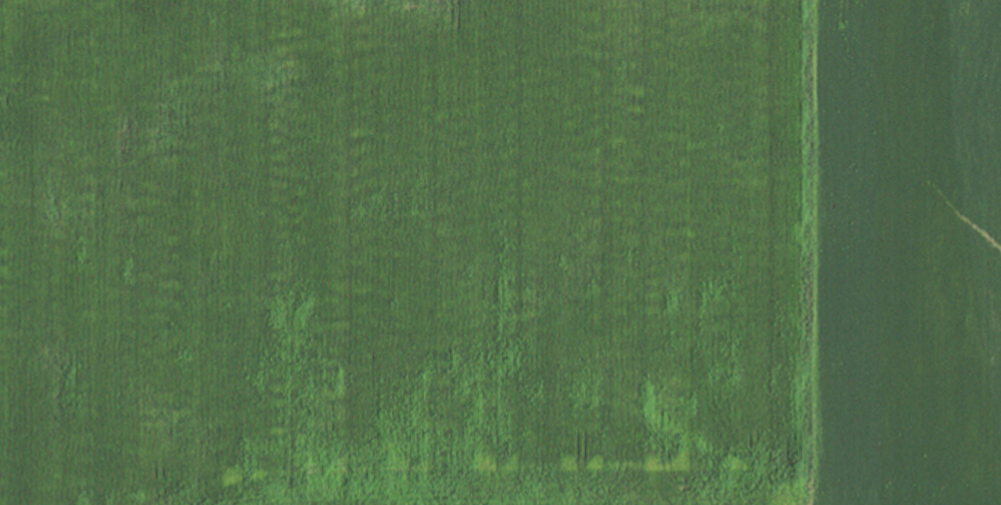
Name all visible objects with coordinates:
crop: (401, 238)
airport: (883, 307)

